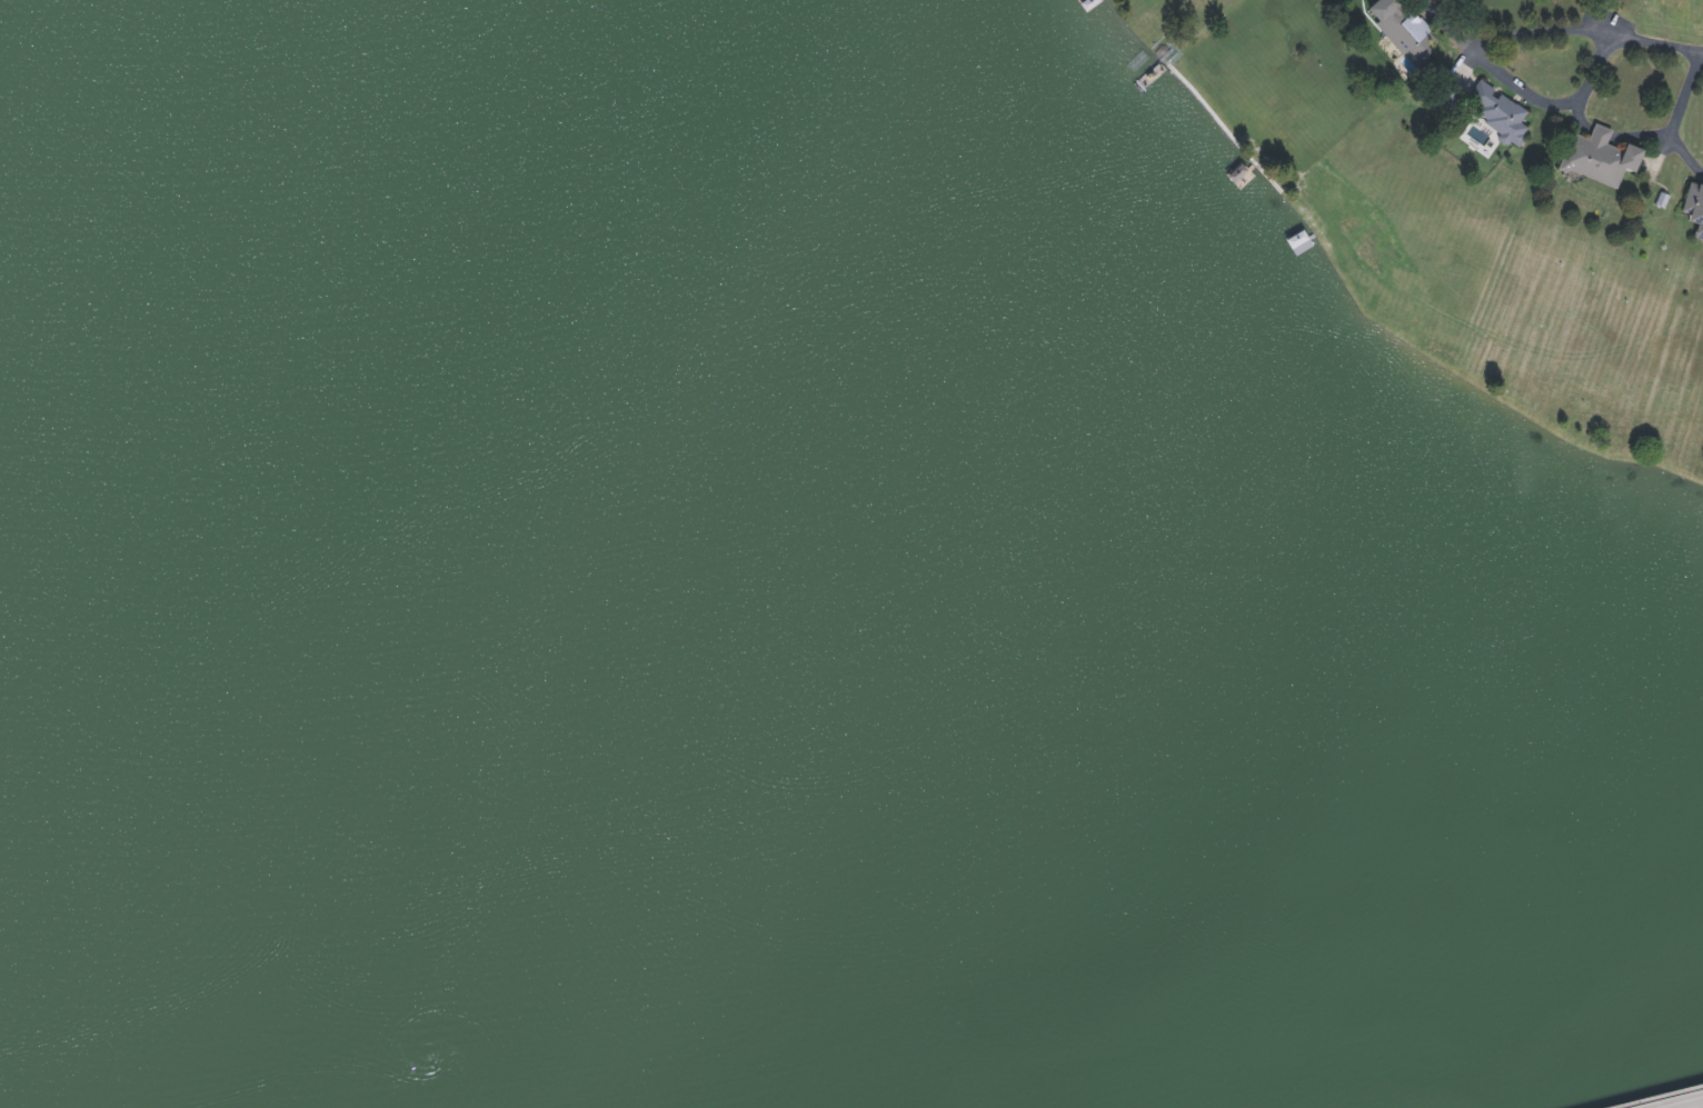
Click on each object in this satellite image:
building: (1402, 27)
road: (1586, 29)
road: (1525, 88)
building: (1495, 109)
road: (1655, 132)
road: (1686, 151)
building: (1597, 156)
building: (1694, 207)
road: (1659, 1097)
road: (1692, 1105)

